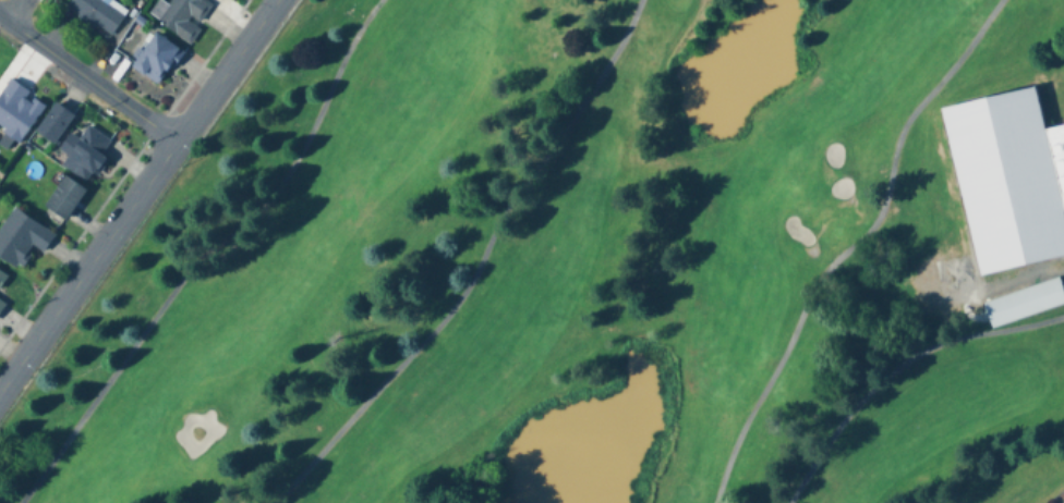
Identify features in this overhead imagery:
road: (19, 9)
building: (184, 13)
building: (97, 14)
building: (156, 56)
road: (88, 72)
building: (15, 114)
building: (55, 125)
building: (86, 150)
building: (1008, 177)
road: (136, 192)
building: (65, 194)
building: (23, 232)
road: (853, 246)
road: (207, 255)
road: (477, 266)
park: (590, 266)
building: (2, 275)
building: (1024, 296)
building: (3, 298)
road: (897, 367)

